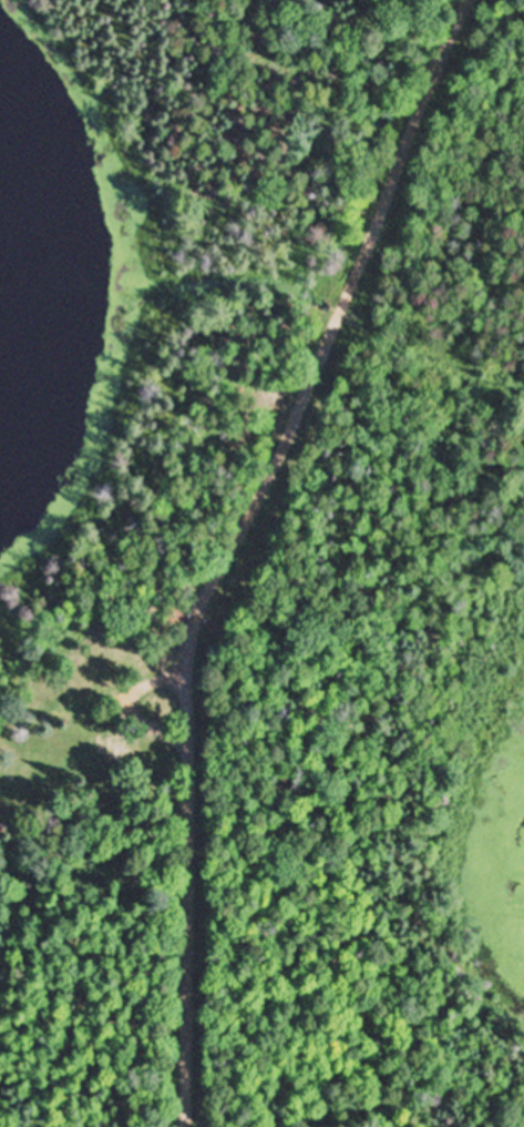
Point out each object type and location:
road: (350, 306)
road: (188, 862)

